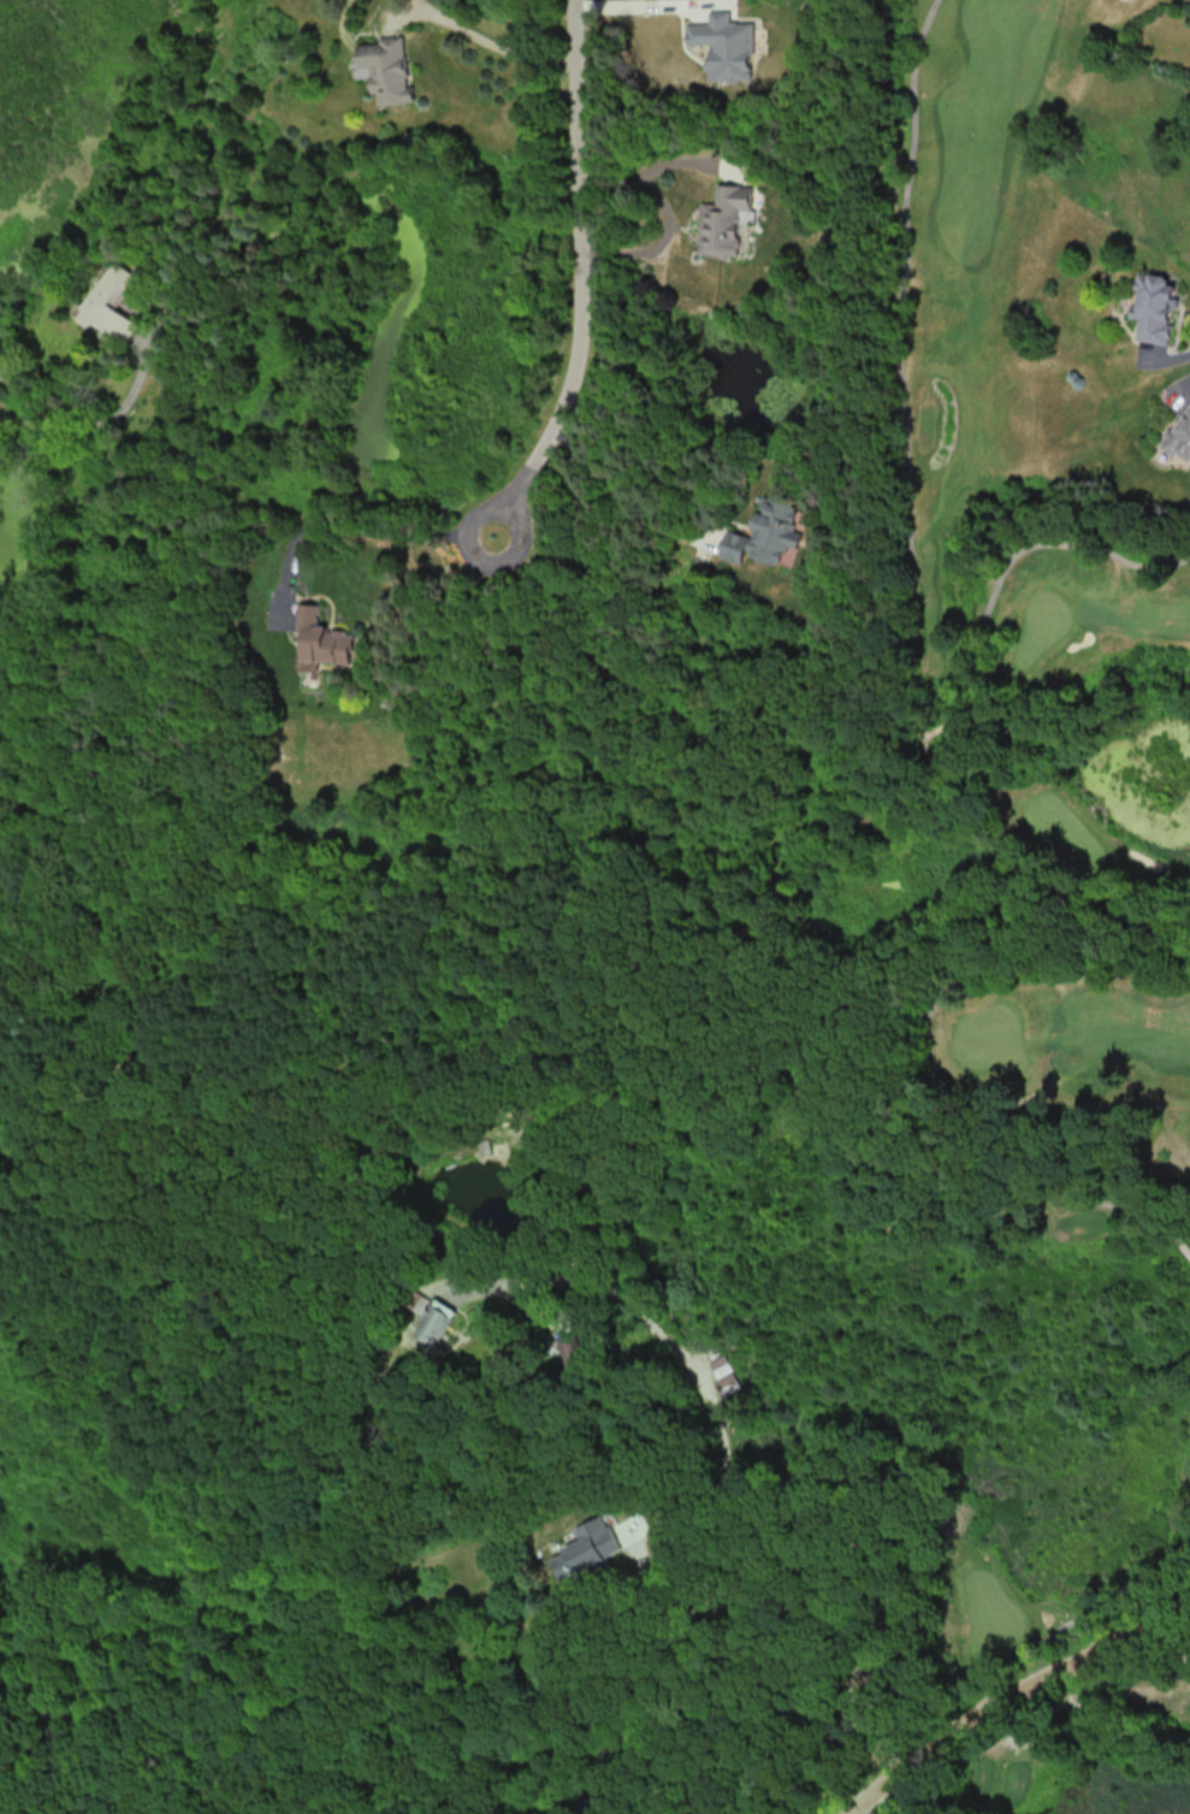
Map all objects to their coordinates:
road: (638, 11)
road: (475, 43)
building: (724, 46)
building: (387, 69)
building: (723, 220)
road: (579, 277)
building: (101, 296)
building: (1150, 307)
road: (102, 421)
building: (1179, 431)
road: (621, 494)
road: (355, 527)
building: (766, 534)
road: (908, 538)
building: (321, 640)
road: (1022, 849)
park: (1044, 899)
building: (436, 1320)
building: (723, 1375)
road: (735, 1487)
building: (587, 1549)
road: (691, 1597)
road: (1011, 1692)

